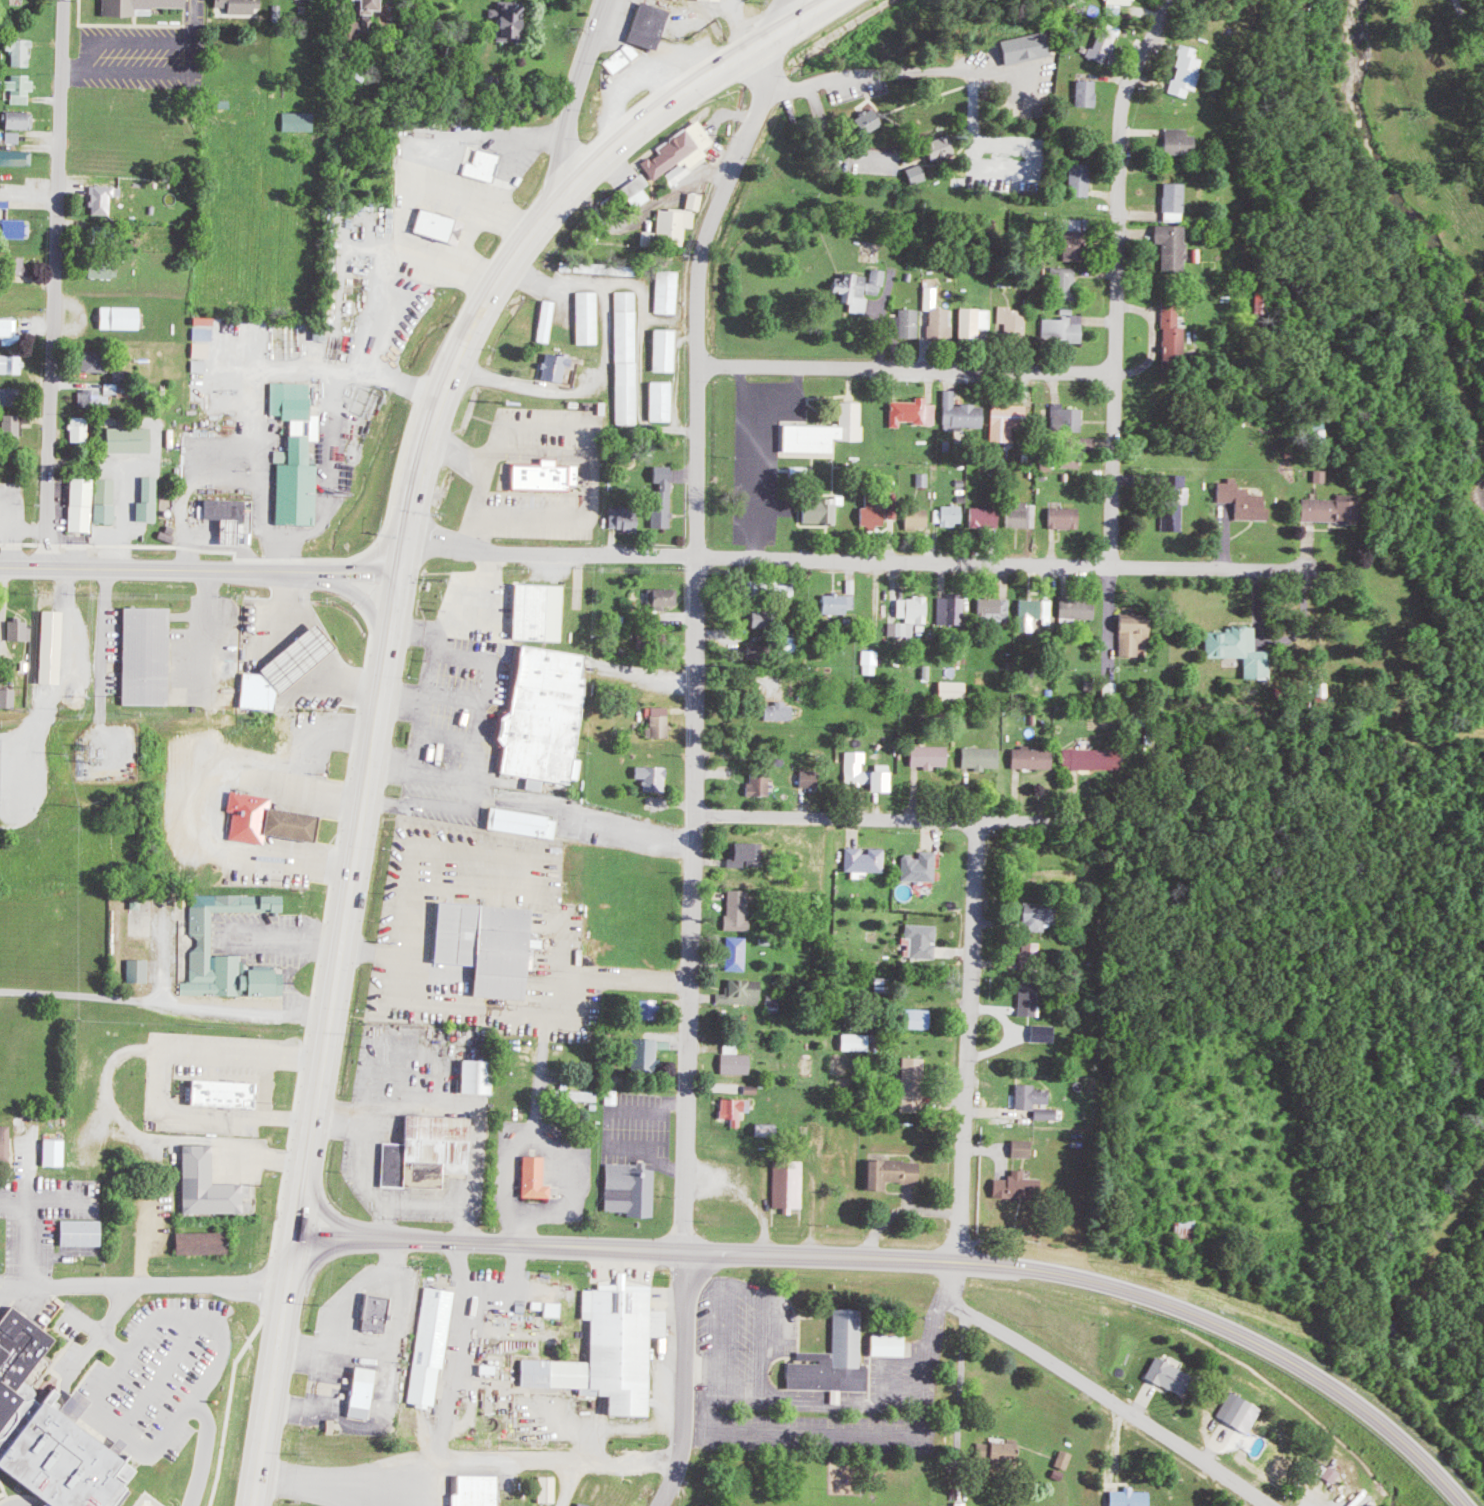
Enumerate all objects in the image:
building: (720, 0)
building: (241, 5)
building: (1119, 5)
building: (137, 6)
building: (368, 6)
building: (508, 19)
road: (789, 21)
building: (649, 25)
building: (1106, 43)
building: (1025, 48)
building: (22, 50)
road: (141, 53)
building: (624, 59)
road: (777, 63)
building: (1187, 71)
building: (22, 87)
road: (578, 93)
building: (1087, 93)
building: (21, 119)
building: (299, 121)
building: (869, 121)
building: (15, 137)
building: (1181, 141)
building: (941, 147)
building: (682, 154)
road: (839, 155)
building: (16, 157)
building: (485, 165)
building: (918, 173)
building: (1081, 179)
building: (640, 191)
building: (105, 198)
building: (699, 200)
building: (1174, 201)
road: (29, 207)
road: (552, 217)
building: (441, 226)
building: (679, 226)
building: (16, 228)
building: (105, 235)
building: (1073, 236)
building: (1172, 245)
building: (19, 265)
building: (607, 268)
building: (103, 269)
road: (1116, 277)
building: (1067, 282)
road: (53, 283)
building: (861, 288)
building: (670, 292)
building: (121, 317)
building: (590, 317)
building: (550, 320)
building: (976, 321)
building: (1016, 322)
building: (936, 323)
building: (904, 324)
building: (1067, 327)
building: (10, 330)
building: (1174, 331)
building: (322, 333)
building: (203, 349)
building: (668, 350)
building: (630, 357)
building: (96, 361)
building: (14, 364)
building: (557, 367)
road: (909, 369)
building: (115, 388)
building: (9, 396)
building: (98, 398)
building: (664, 401)
building: (915, 412)
building: (964, 413)
building: (1068, 418)
building: (1009, 421)
building: (15, 426)
building: (82, 429)
building: (827, 432)
building: (131, 439)
building: (297, 455)
road: (11, 461)
building: (1321, 476)
building: (926, 479)
building: (664, 496)
building: (107, 500)
building: (149, 500)
building: (1244, 501)
building: (1178, 503)
building: (82, 505)
building: (225, 509)
building: (821, 510)
building: (1328, 510)
building: (874, 515)
building: (1024, 515)
building: (918, 516)
building: (985, 517)
building: (1066, 517)
building: (625, 519)
road: (554, 553)
traffic signals: (412, 555)
road: (1021, 562)
road: (207, 569)
building: (781, 590)
building: (664, 597)
building: (839, 604)
building: (1079, 608)
building: (916, 609)
building: (995, 609)
building: (953, 610)
building: (539, 612)
building: (1036, 613)
building: (759, 618)
building: (21, 629)
building: (904, 629)
building: (2, 632)
building: (1133, 635)
building: (52, 647)
building: (1240, 650)
road: (103, 652)
building: (147, 655)
road: (697, 662)
building: (873, 662)
building: (286, 668)
road: (41, 678)
building: (954, 690)
building: (1112, 691)
building: (10, 698)
building: (780, 711)
building: (544, 717)
building: (660, 722)
building: (930, 756)
building: (982, 757)
building: (1032, 758)
building: (857, 768)
building: (654, 778)
building: (810, 778)
building: (881, 781)
building: (760, 785)
building: (267, 820)
road: (885, 820)
building: (524, 823)
building: (748, 855)
building: (866, 860)
building: (921, 867)
road: (353, 896)
building: (740, 909)
building: (1038, 916)
building: (203, 930)
building: (924, 941)
building: (731, 953)
building: (141, 970)
building: (744, 992)
building: (776, 1001)
building: (651, 1009)
building: (918, 1018)
building: (1044, 1033)
building: (856, 1042)
building: (646, 1051)
building: (736, 1060)
road: (966, 1061)
building: (476, 1077)
building: (915, 1085)
building: (223, 1092)
building: (579, 1095)
building: (1032, 1096)
building: (736, 1110)
building: (1048, 1113)
building: (768, 1129)
building: (5, 1142)
building: (1022, 1147)
building: (429, 1150)
building: (57, 1152)
building: (891, 1172)
building: (535, 1177)
building: (208, 1184)
building: (789, 1184)
building: (1014, 1184)
building: (630, 1188)
road: (49, 1201)
road: (33, 1212)
road: (901, 1215)
building: (83, 1232)
building: (203, 1242)
road: (912, 1260)
road: (144, 1284)
building: (555, 1308)
building: (375, 1311)
road: (101, 1332)
road: (114, 1344)
building: (889, 1344)
building: (433, 1346)
building: (611, 1349)
building: (15, 1353)
building: (833, 1358)
road: (274, 1372)
road: (160, 1374)
building: (1168, 1374)
road: (108, 1380)
road: (682, 1381)
building: (361, 1391)
road: (1107, 1401)
building: (1236, 1408)
road: (758, 1438)
road: (203, 1450)
building: (1065, 1458)
building: (1330, 1472)
building: (549, 1488)
building: (476, 1490)
building: (1130, 1497)

